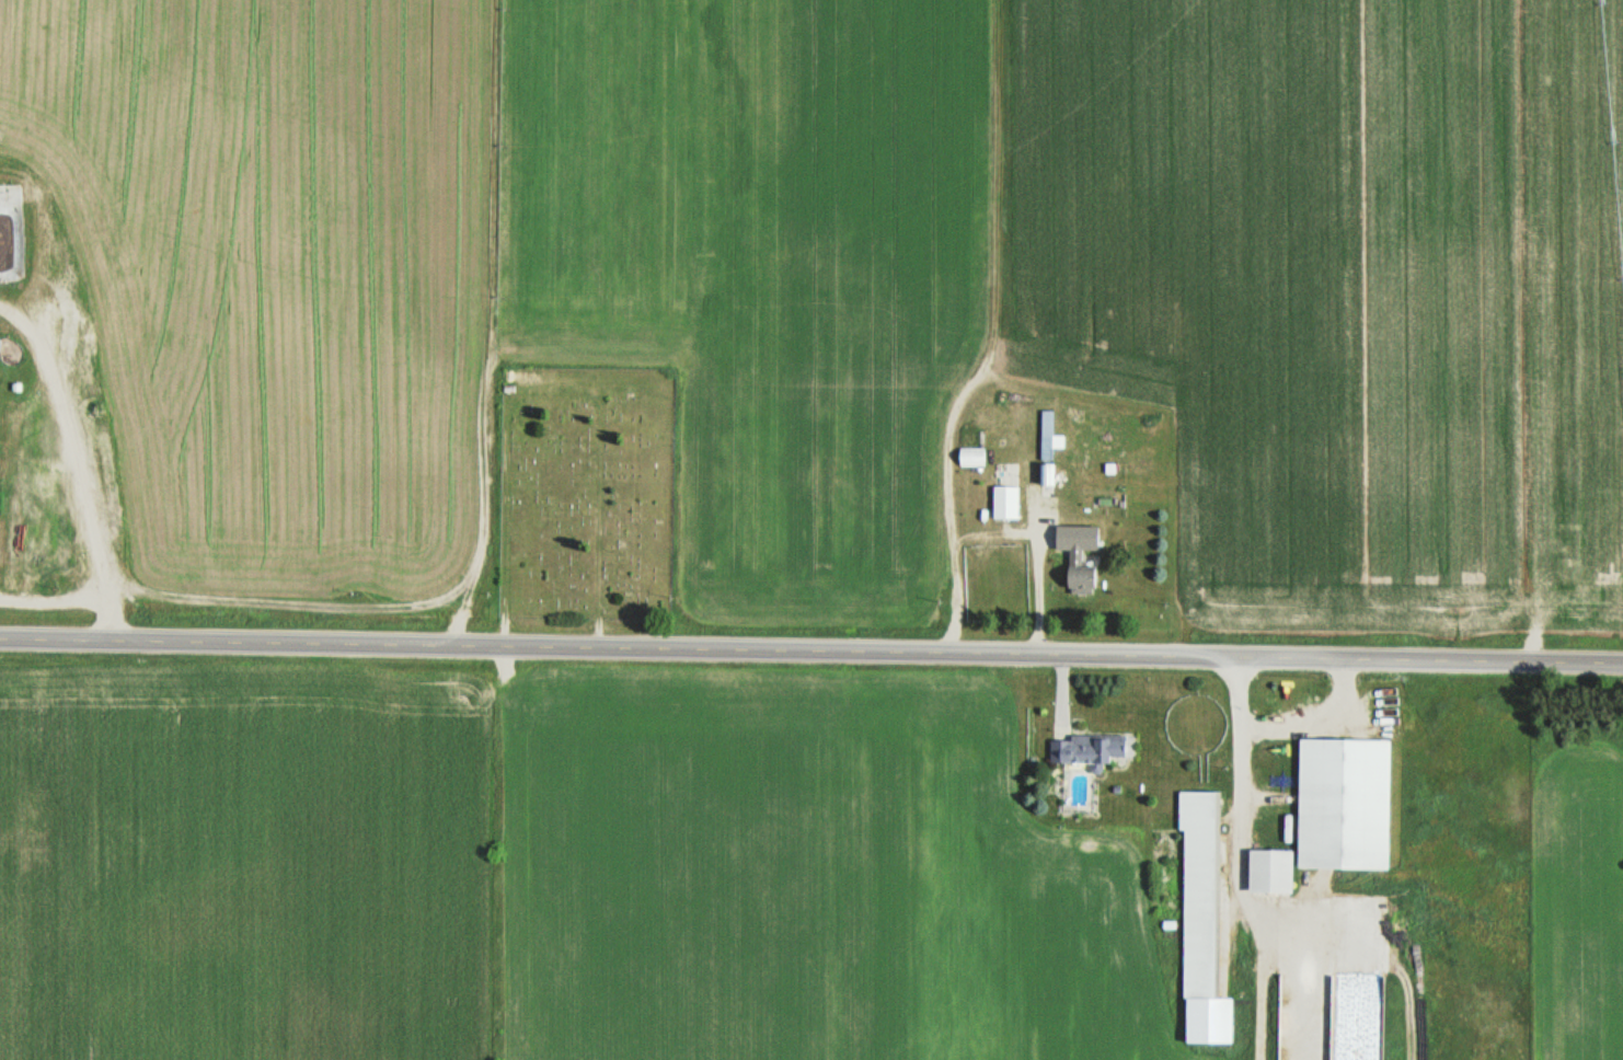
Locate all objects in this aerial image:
building: (1046, 448)
building: (971, 458)
building: (1047, 475)
park: (586, 493)
building: (1086, 517)
building: (133, 545)
building: (1080, 566)
building: (997, 586)
road: (811, 648)
building: (1087, 749)
building: (1344, 803)
building: (1270, 869)
building: (1198, 891)

